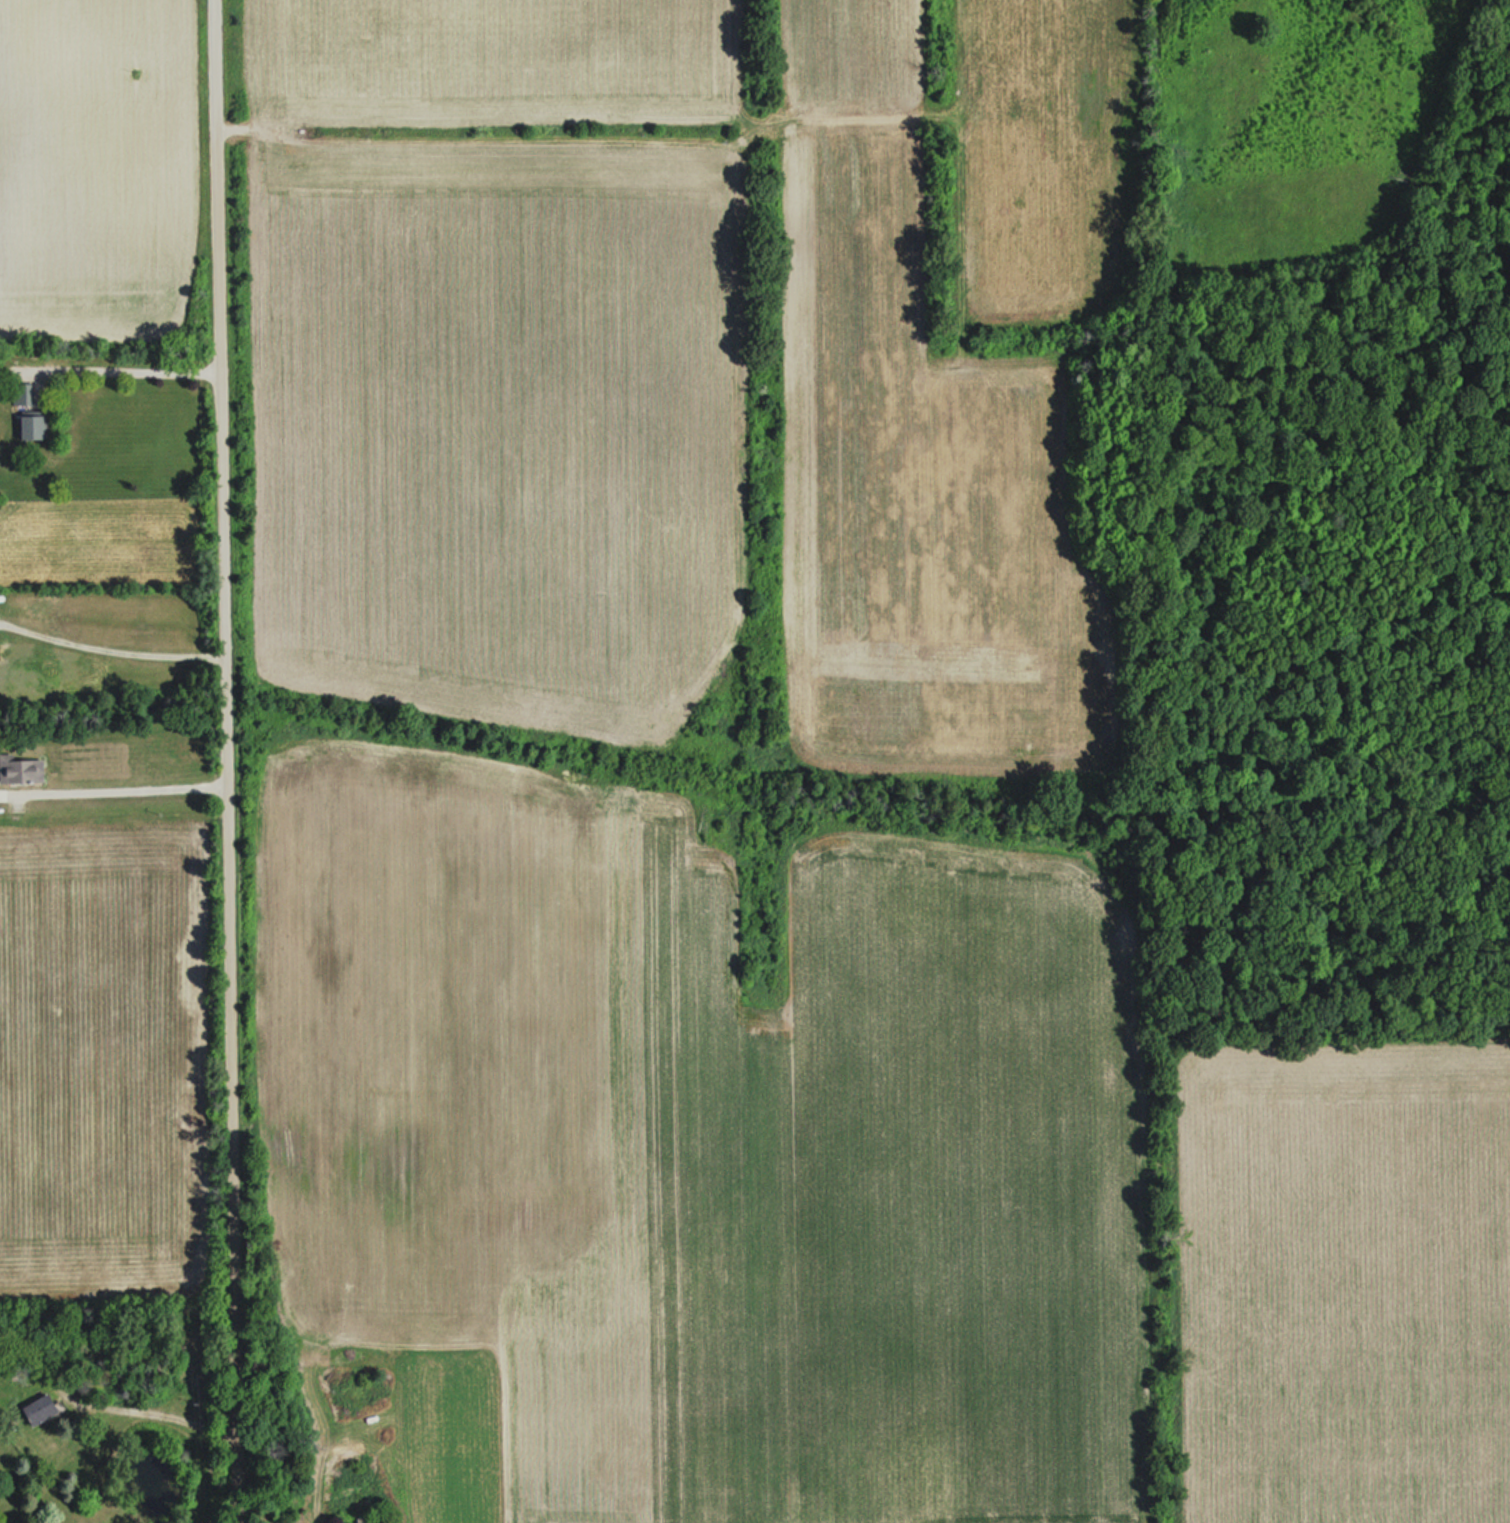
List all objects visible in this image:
road: (126, 373)
building: (36, 426)
road: (110, 642)
road: (225, 761)
building: (23, 767)
road: (139, 782)
building: (46, 1408)
road: (153, 1412)

